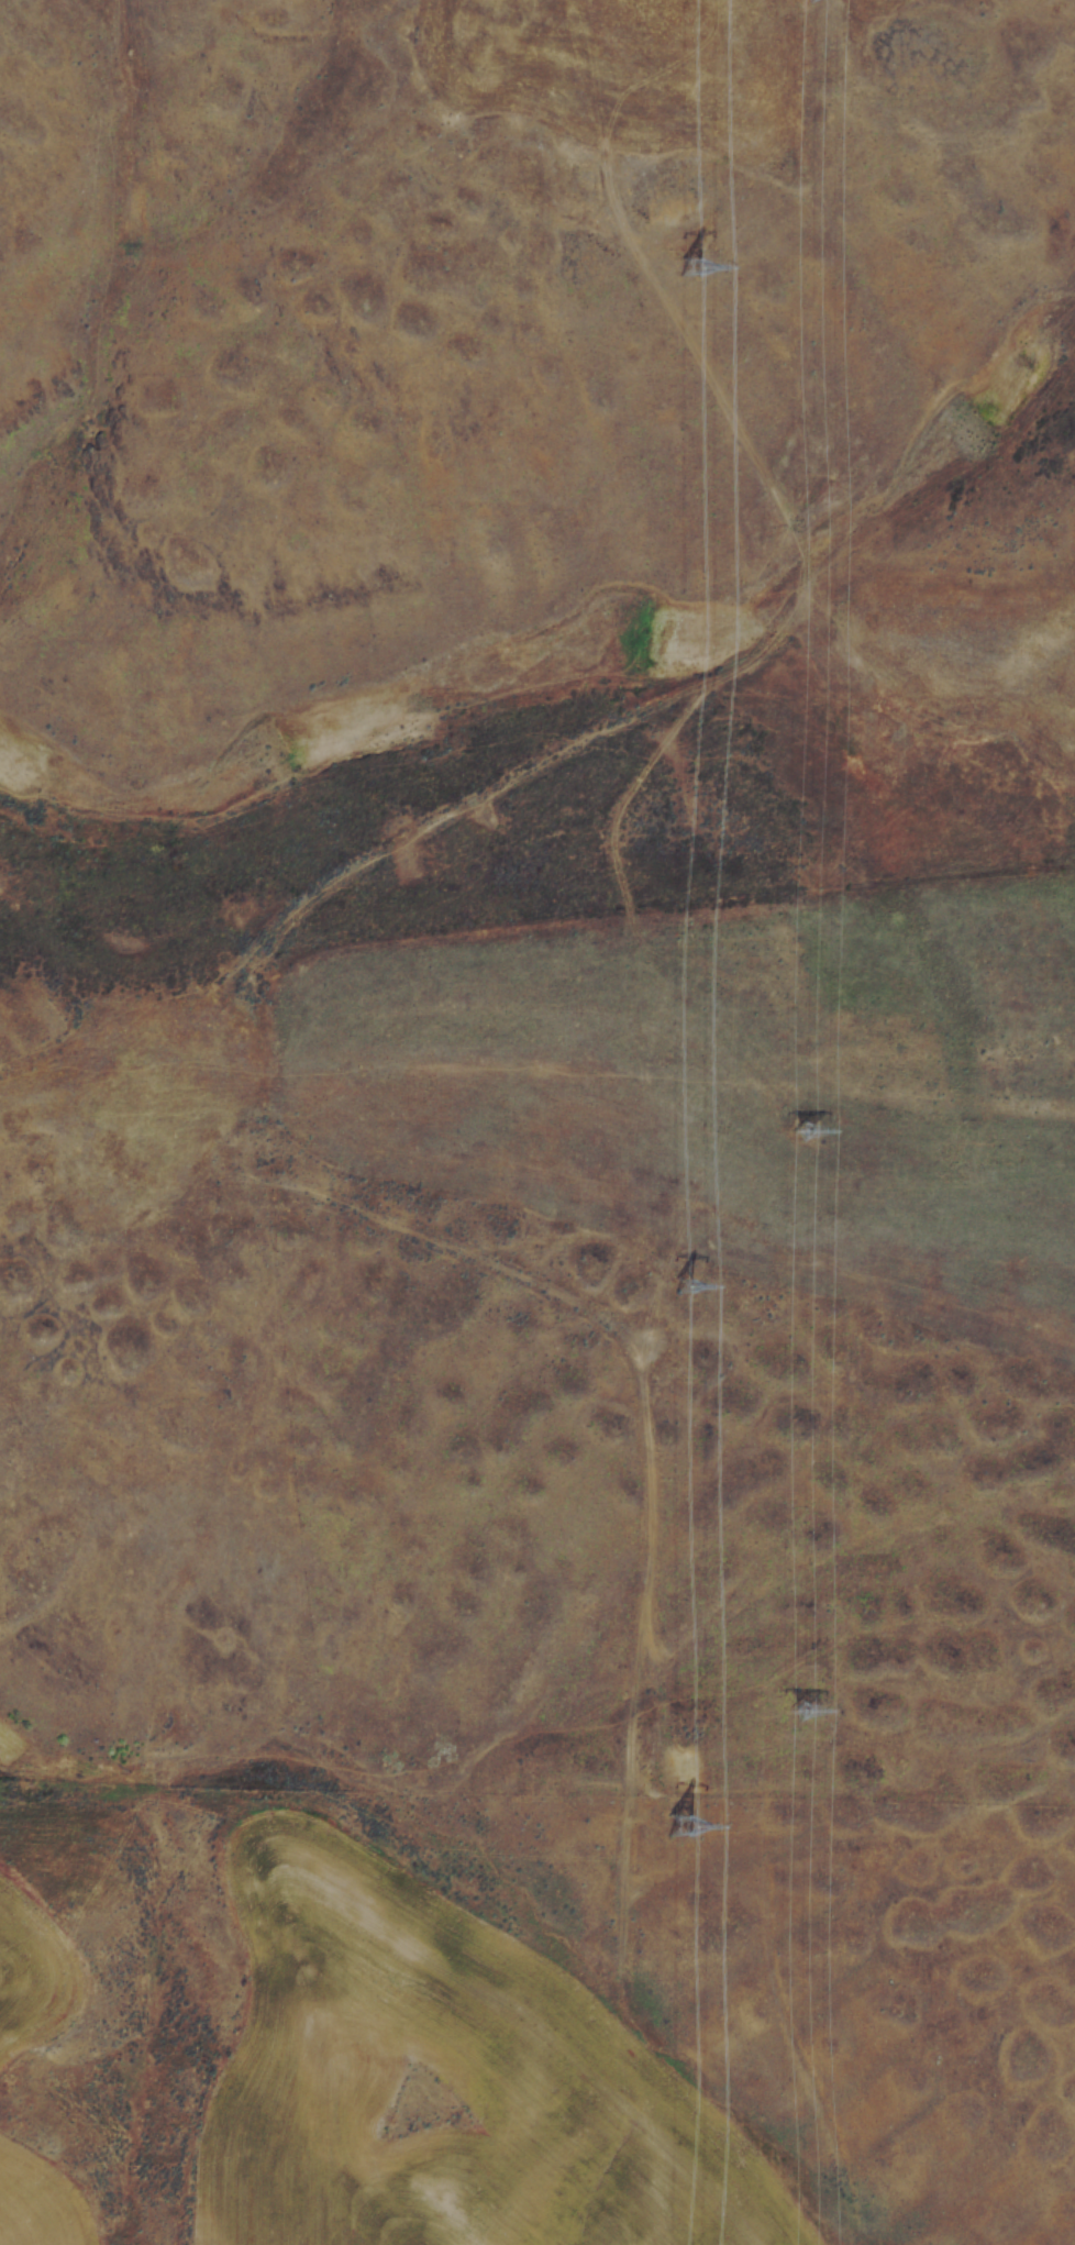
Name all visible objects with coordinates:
power tower: (717, 253)
power tower: (816, 1133)
power tower: (711, 1282)
power tower: (816, 1703)
power tower: (705, 1833)

